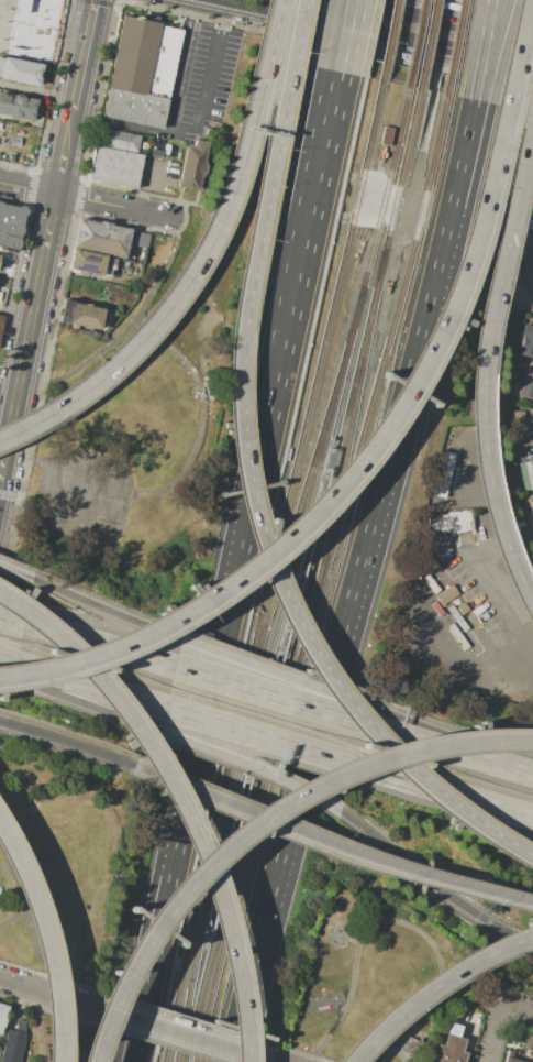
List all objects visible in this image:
road: (399, 6)
road: (438, 19)
building: (30, 26)
road: (370, 33)
road: (332, 34)
road: (352, 36)
railway: (388, 41)
railway: (415, 44)
railway: (425, 45)
railway: (454, 47)
road: (481, 50)
road: (489, 50)
road: (180, 62)
road: (212, 66)
building: (20, 70)
building: (142, 72)
road: (429, 99)
building: (16, 106)
road: (137, 130)
building: (385, 134)
building: (120, 140)
road: (330, 142)
road: (278, 146)
road: (462, 149)
road: (380, 157)
road: (515, 158)
building: (192, 165)
building: (114, 166)
road: (148, 186)
road: (374, 186)
railway: (387, 188)
road: (411, 193)
road: (90, 199)
road: (389, 205)
road: (307, 208)
building: (11, 226)
road: (45, 234)
building: (101, 238)
building: (141, 239)
road: (466, 254)
building: (90, 263)
road: (202, 263)
road: (301, 280)
road: (387, 283)
road: (15, 309)
building: (79, 314)
building: (1, 325)
road: (124, 329)
building: (525, 341)
building: (525, 393)
railway: (310, 402)
park: (137, 409)
road: (398, 413)
road: (201, 416)
road: (530, 435)
road: (485, 439)
railway: (343, 459)
parking lot: (525, 462)
building: (525, 474)
building: (442, 475)
park: (84, 494)
road: (38, 497)
building: (531, 503)
railway: (300, 505)
road: (18, 513)
building: (447, 522)
building: (425, 559)
building: (429, 566)
road: (13, 567)
railway: (306, 577)
building: (426, 578)
railway: (321, 579)
building: (431, 585)
building: (444, 594)
road: (196, 603)
road: (500, 603)
road: (103, 605)
building: (435, 607)
building: (459, 609)
road: (14, 616)
building: (455, 617)
road: (299, 623)
building: (456, 636)
road: (101, 645)
road: (7, 658)
road: (218, 664)
road: (5, 668)
railway: (263, 674)
road: (90, 683)
road: (287, 686)
road: (284, 700)
road: (85, 702)
road: (42, 733)
road: (269, 740)
road: (463, 753)
road: (249, 766)
road: (453, 795)
road: (208, 796)
road: (177, 799)
road: (256, 825)
road: (284, 844)
road: (10, 846)
park: (53, 868)
road: (432, 880)
road: (64, 883)
road: (431, 883)
railway: (199, 891)
road: (34, 915)
road: (396, 923)
park: (402, 929)
road: (51, 961)
road: (435, 988)
road: (44, 994)
building: (3, 1018)
road: (495, 1018)
parking lot: (498, 1020)
road: (135, 1021)
road: (141, 1021)
building: (20, 1027)
road: (179, 1034)
building: (529, 1040)
building: (11, 1047)
building: (449, 1048)
building: (511, 1059)
parking lot: (532, 1059)

